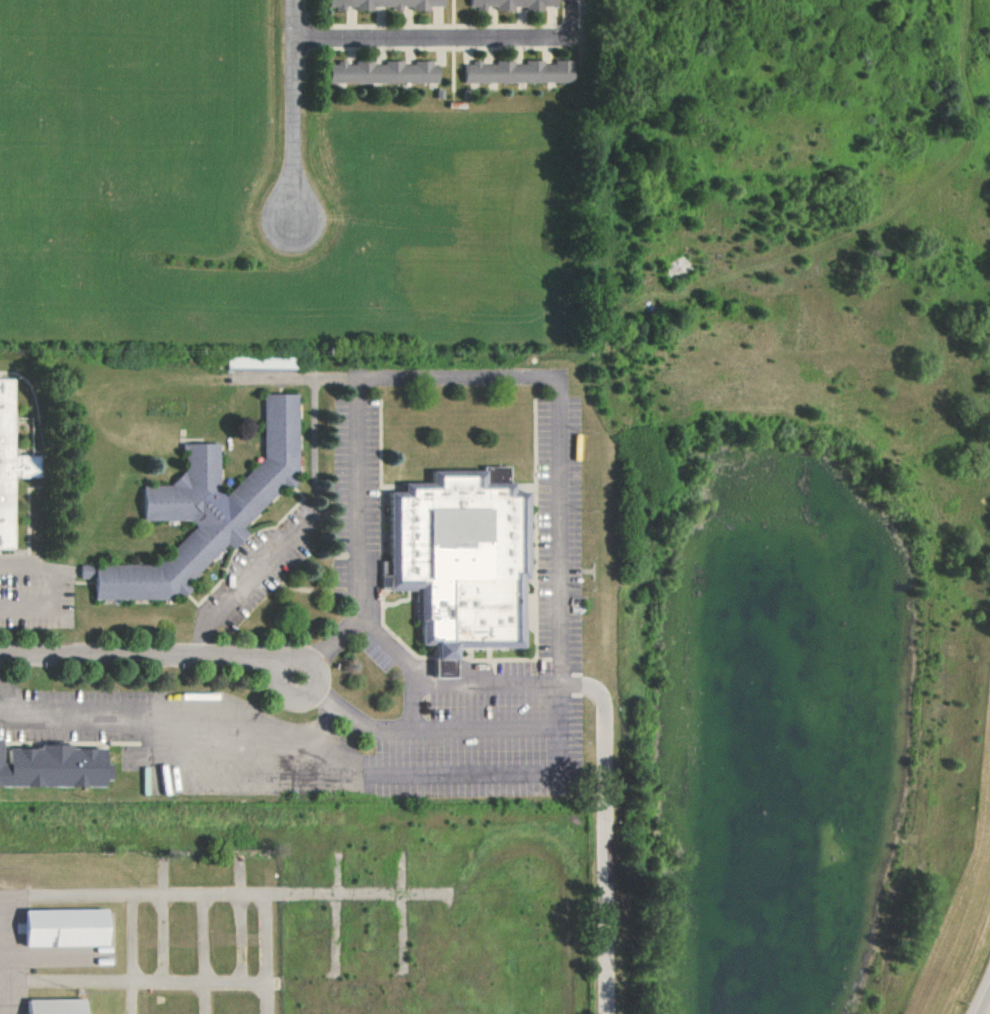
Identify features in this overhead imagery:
building: (384, 4)
building: (512, 4)
road: (569, 16)
road: (432, 37)
building: (517, 71)
building: (380, 72)
road: (295, 106)
building: (267, 361)
building: (13, 464)
building: (206, 508)
building: (458, 561)
road: (153, 653)
building: (56, 764)
road: (606, 839)
building: (55, 934)
road: (985, 1003)
building: (45, 1008)

